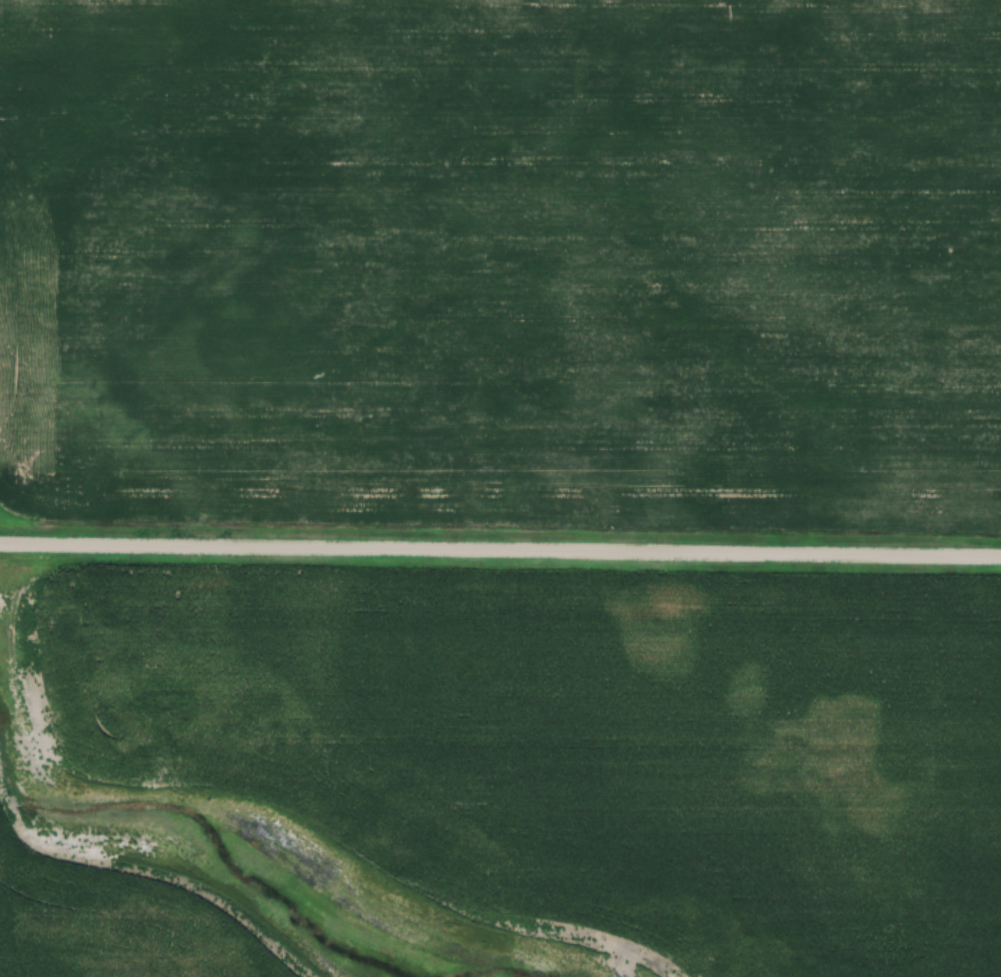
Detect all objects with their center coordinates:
road: (500, 543)

